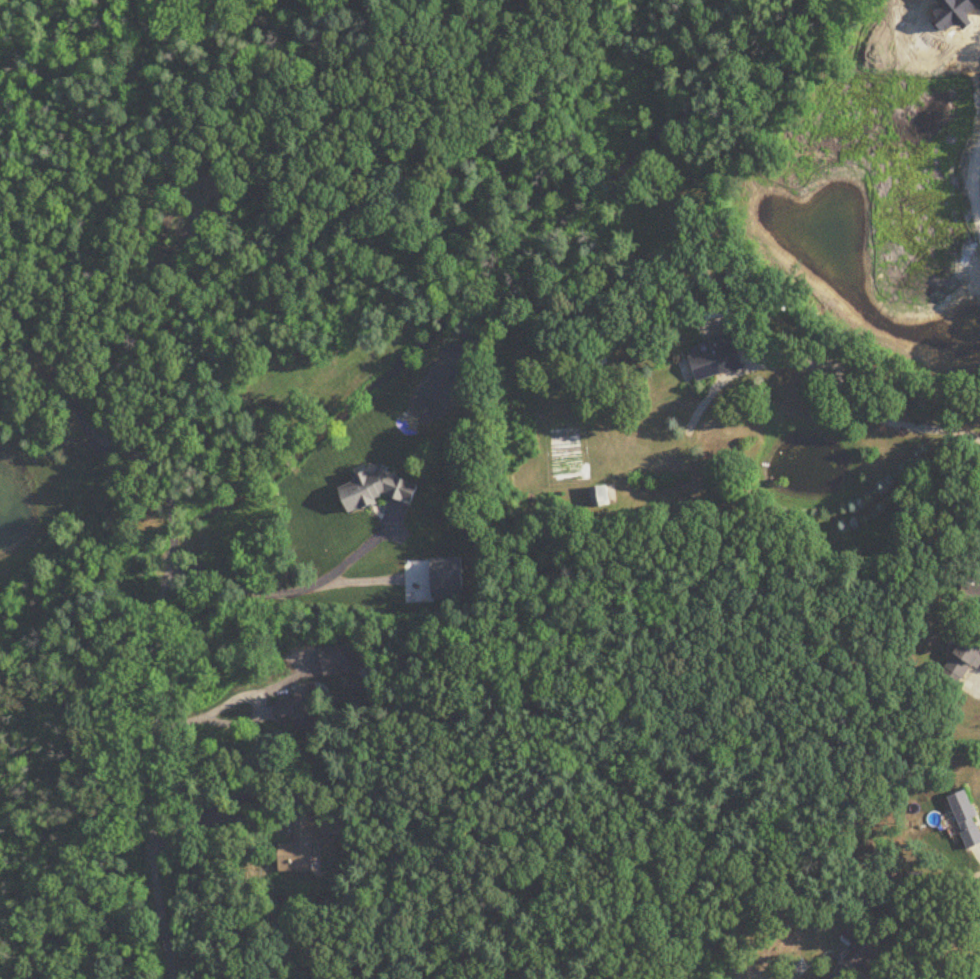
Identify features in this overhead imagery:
road: (968, 187)
building: (735, 281)
road: (25, 344)
building: (718, 358)
road: (849, 392)
road: (965, 432)
building: (377, 490)
building: (600, 496)
road: (290, 592)
building: (970, 597)
road: (155, 632)
building: (961, 658)
building: (299, 712)
road: (245, 723)
road: (261, 788)
building: (966, 819)
building: (302, 847)
building: (860, 957)

